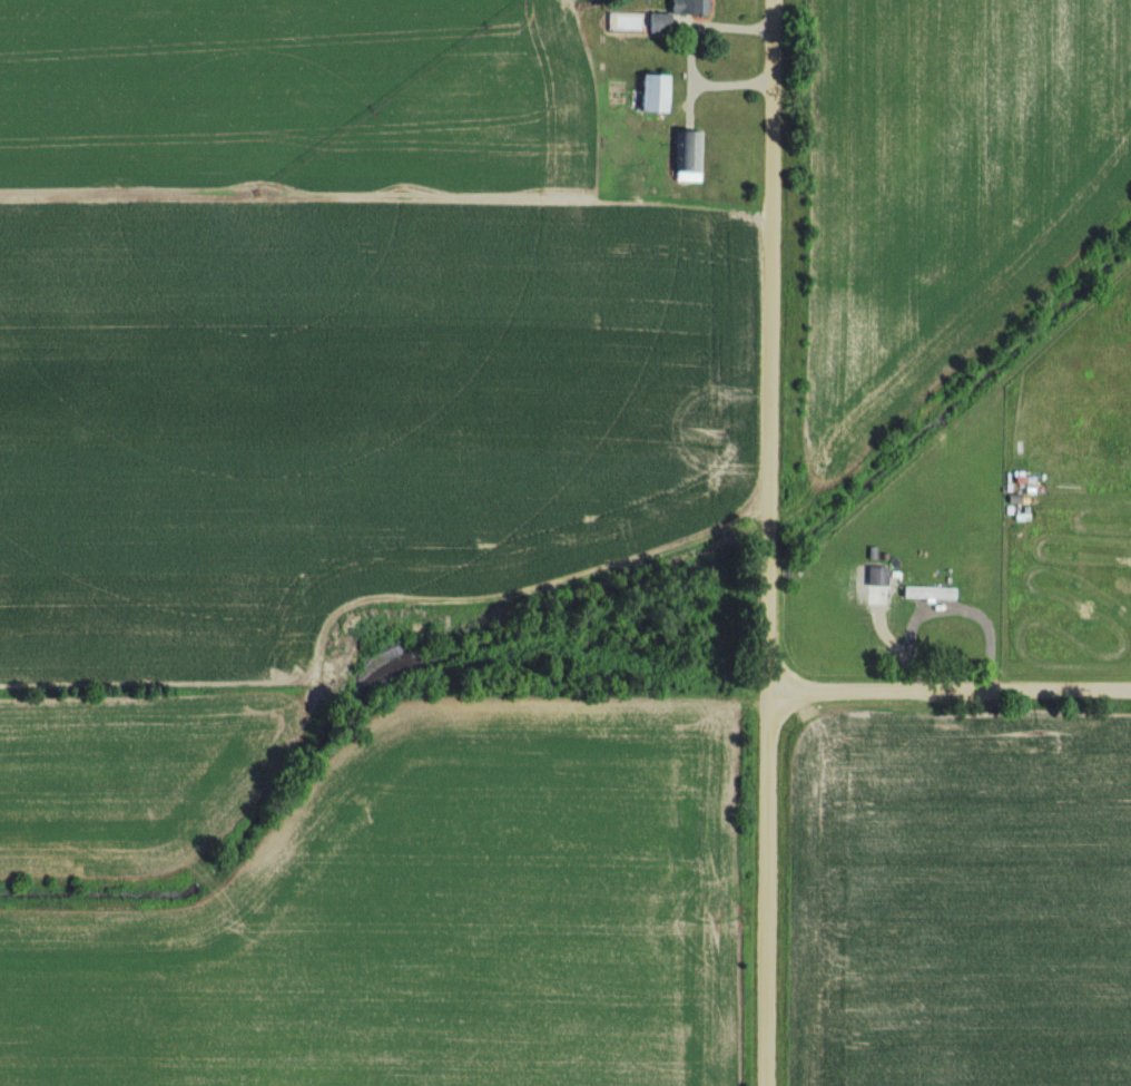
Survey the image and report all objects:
building: (661, 26)
building: (657, 95)
building: (689, 158)
building: (925, 528)
road: (768, 542)
building: (927, 593)
building: (1078, 625)
road: (951, 686)

